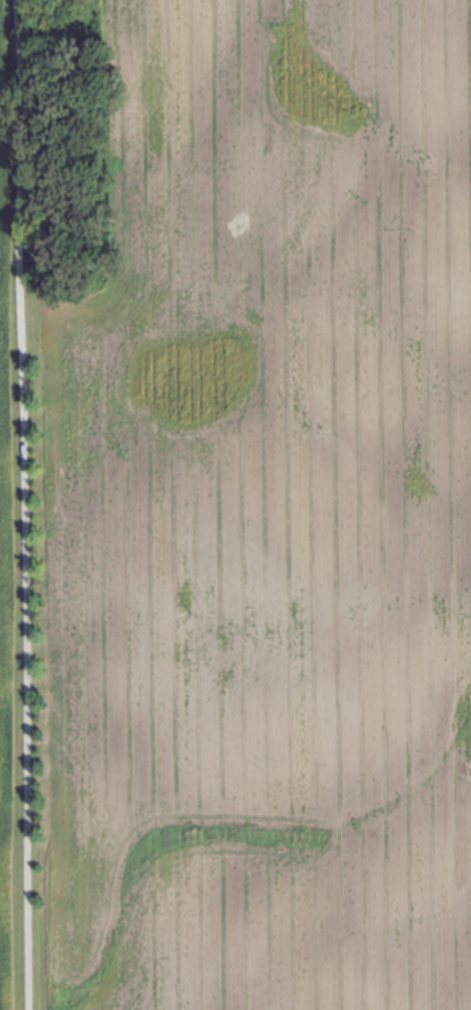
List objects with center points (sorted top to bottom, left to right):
road: (19, 504)

